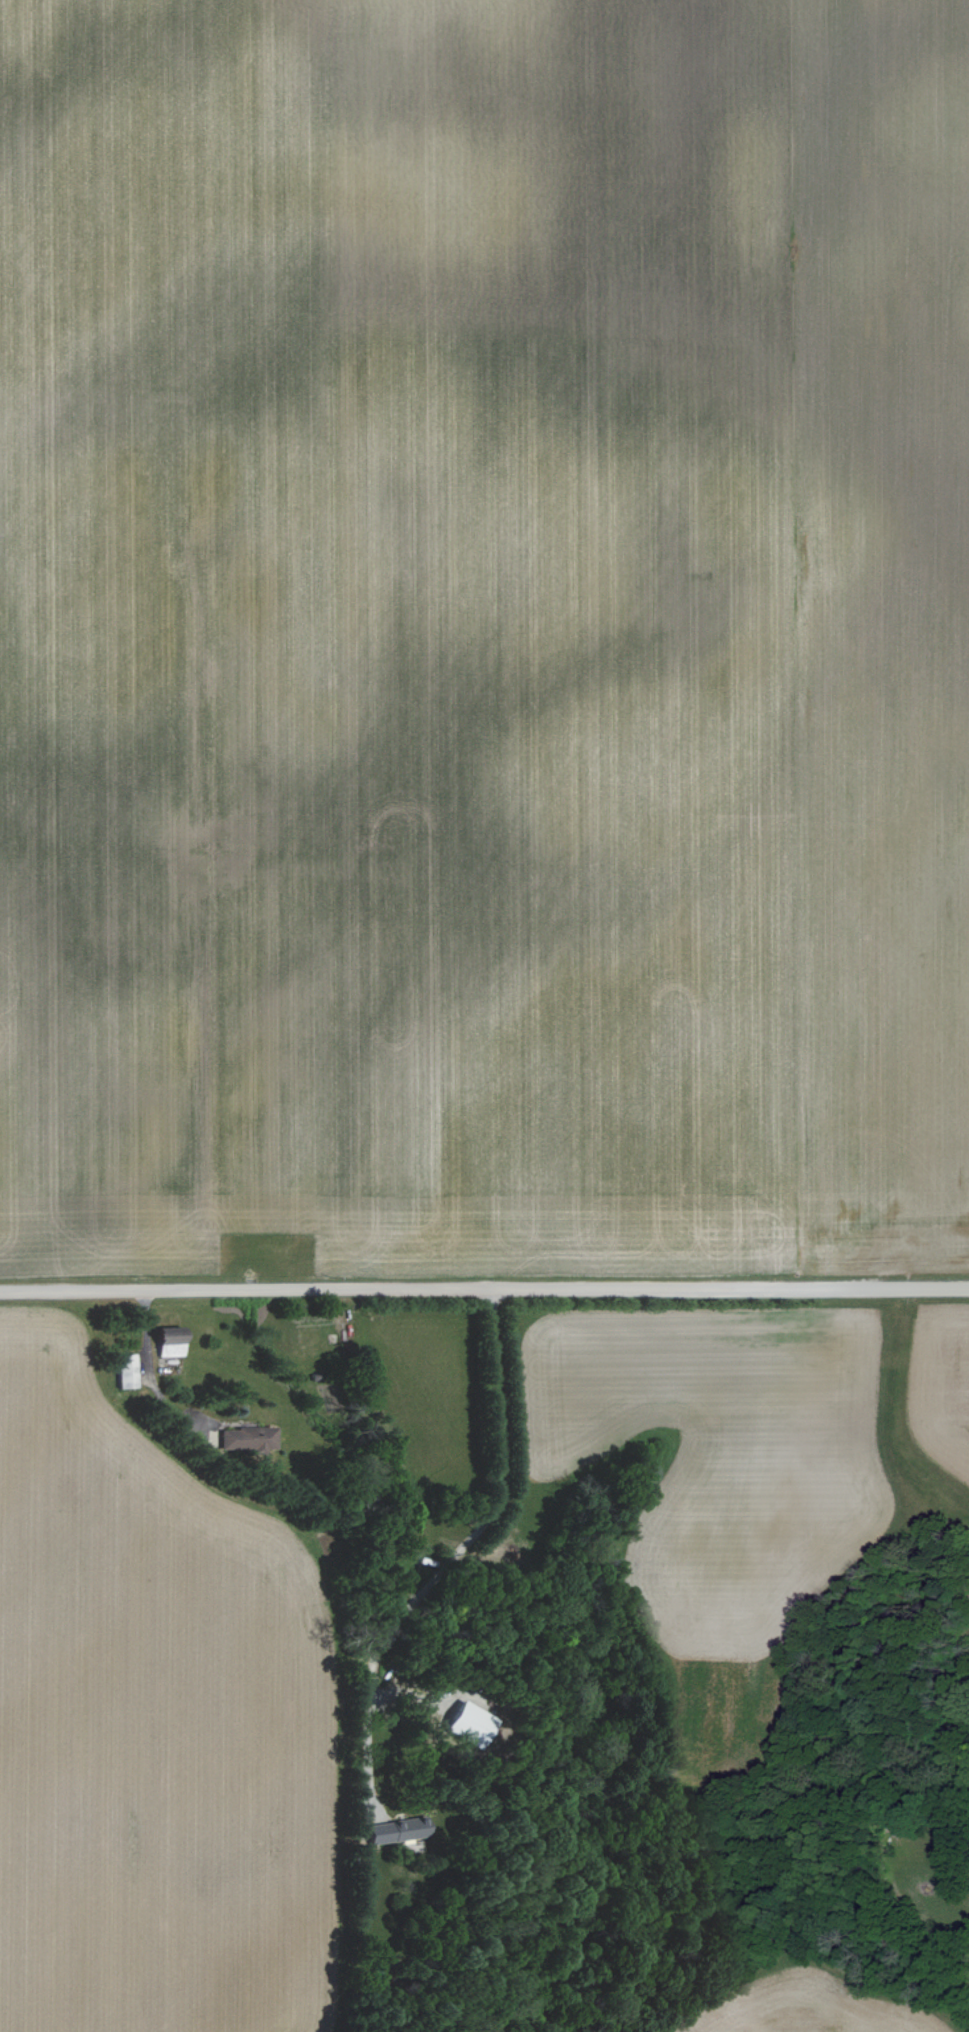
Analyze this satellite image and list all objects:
road: (484, 1292)
building: (165, 1341)
building: (124, 1371)
road: (151, 1373)
building: (244, 1438)
road: (456, 1552)
building: (467, 1724)
building: (394, 1830)

